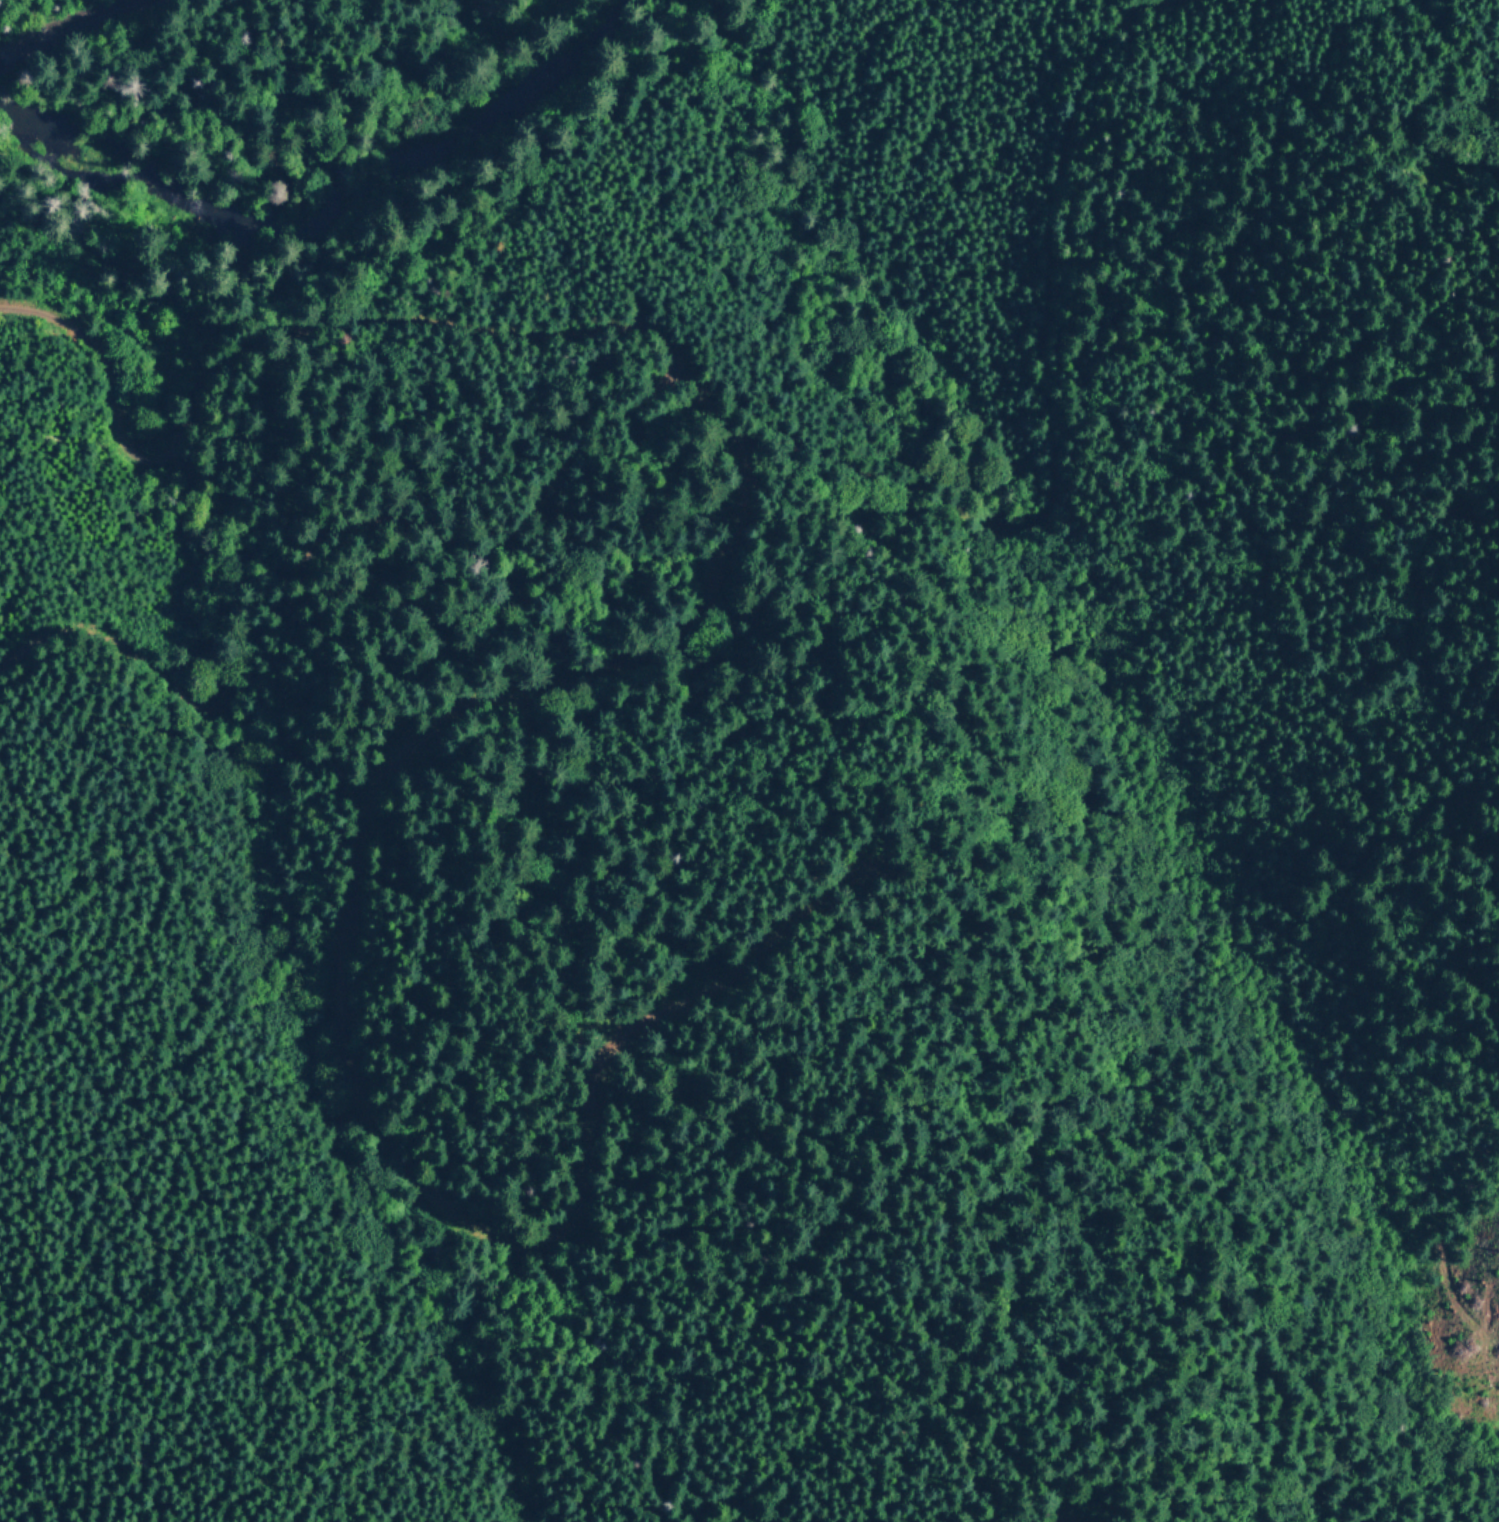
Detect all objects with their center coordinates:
railway: (81, 30)
river: (381, 167)
road: (259, 339)
road: (1039, 454)
road: (321, 565)

